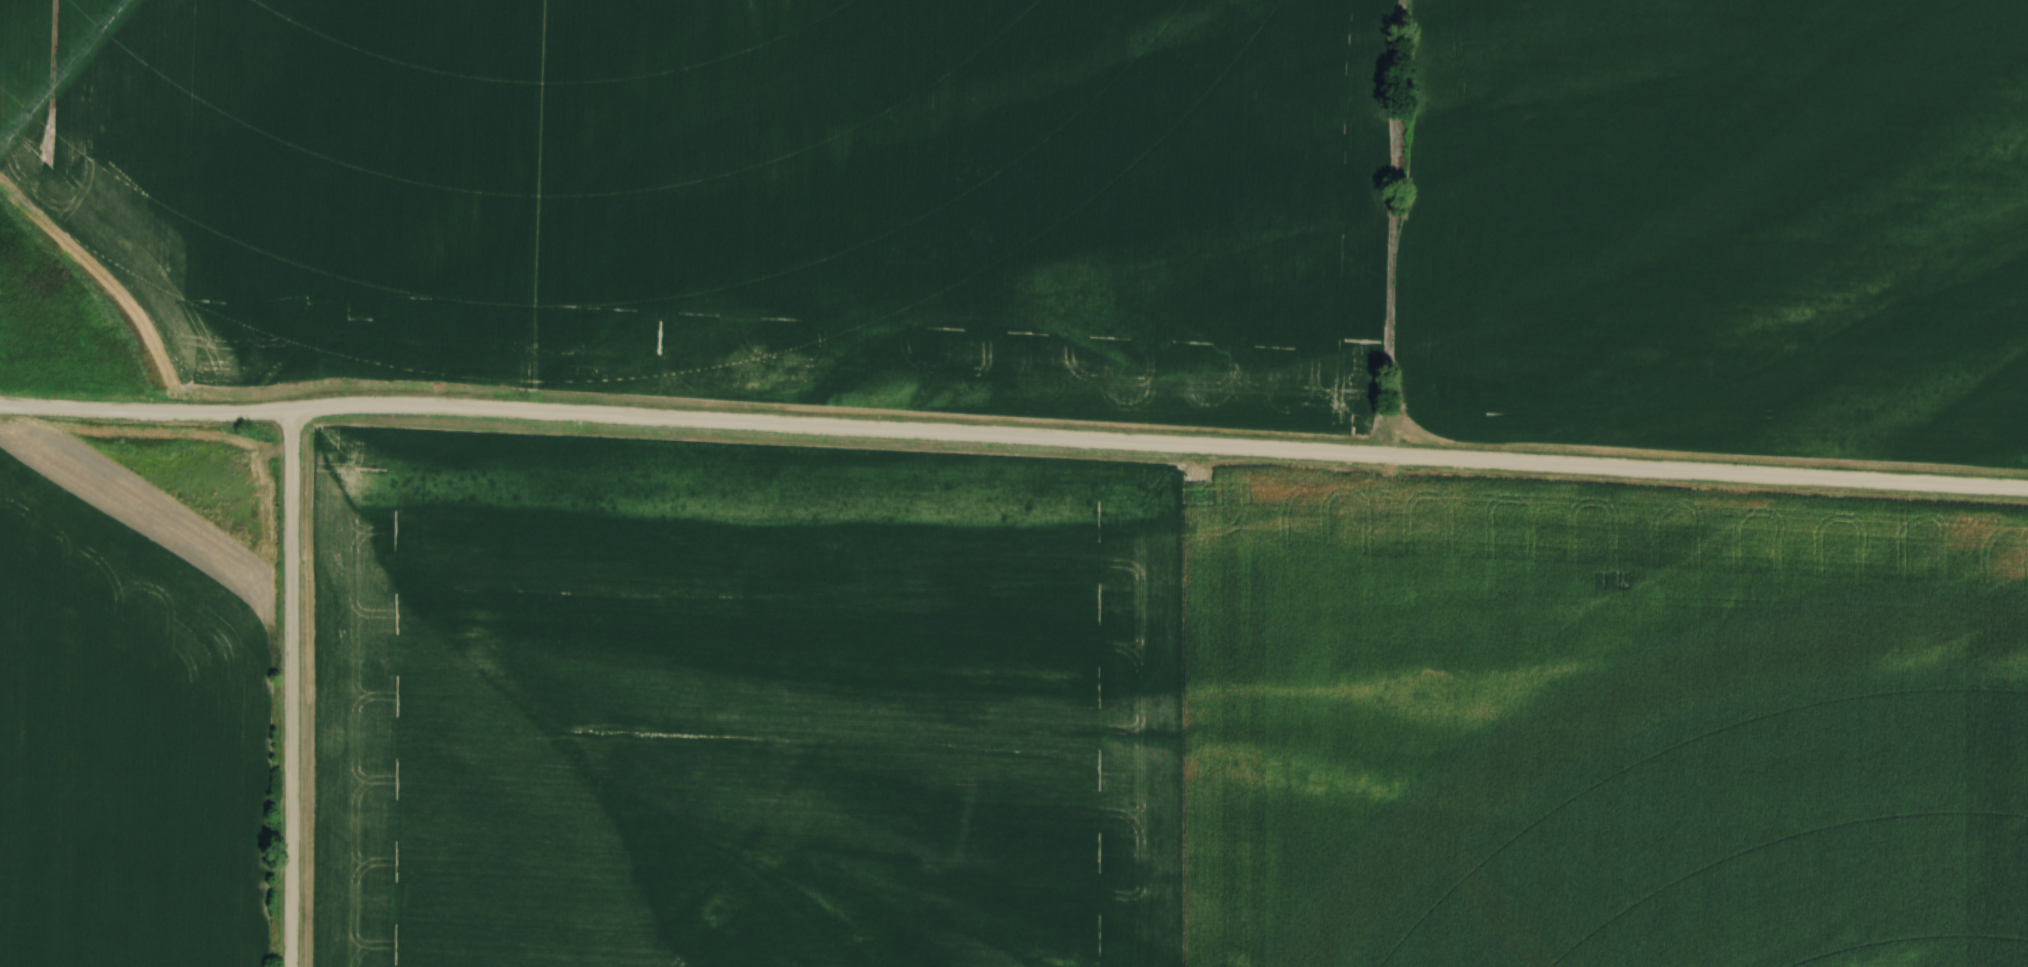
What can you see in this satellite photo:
road: (1014, 433)
road: (284, 687)

